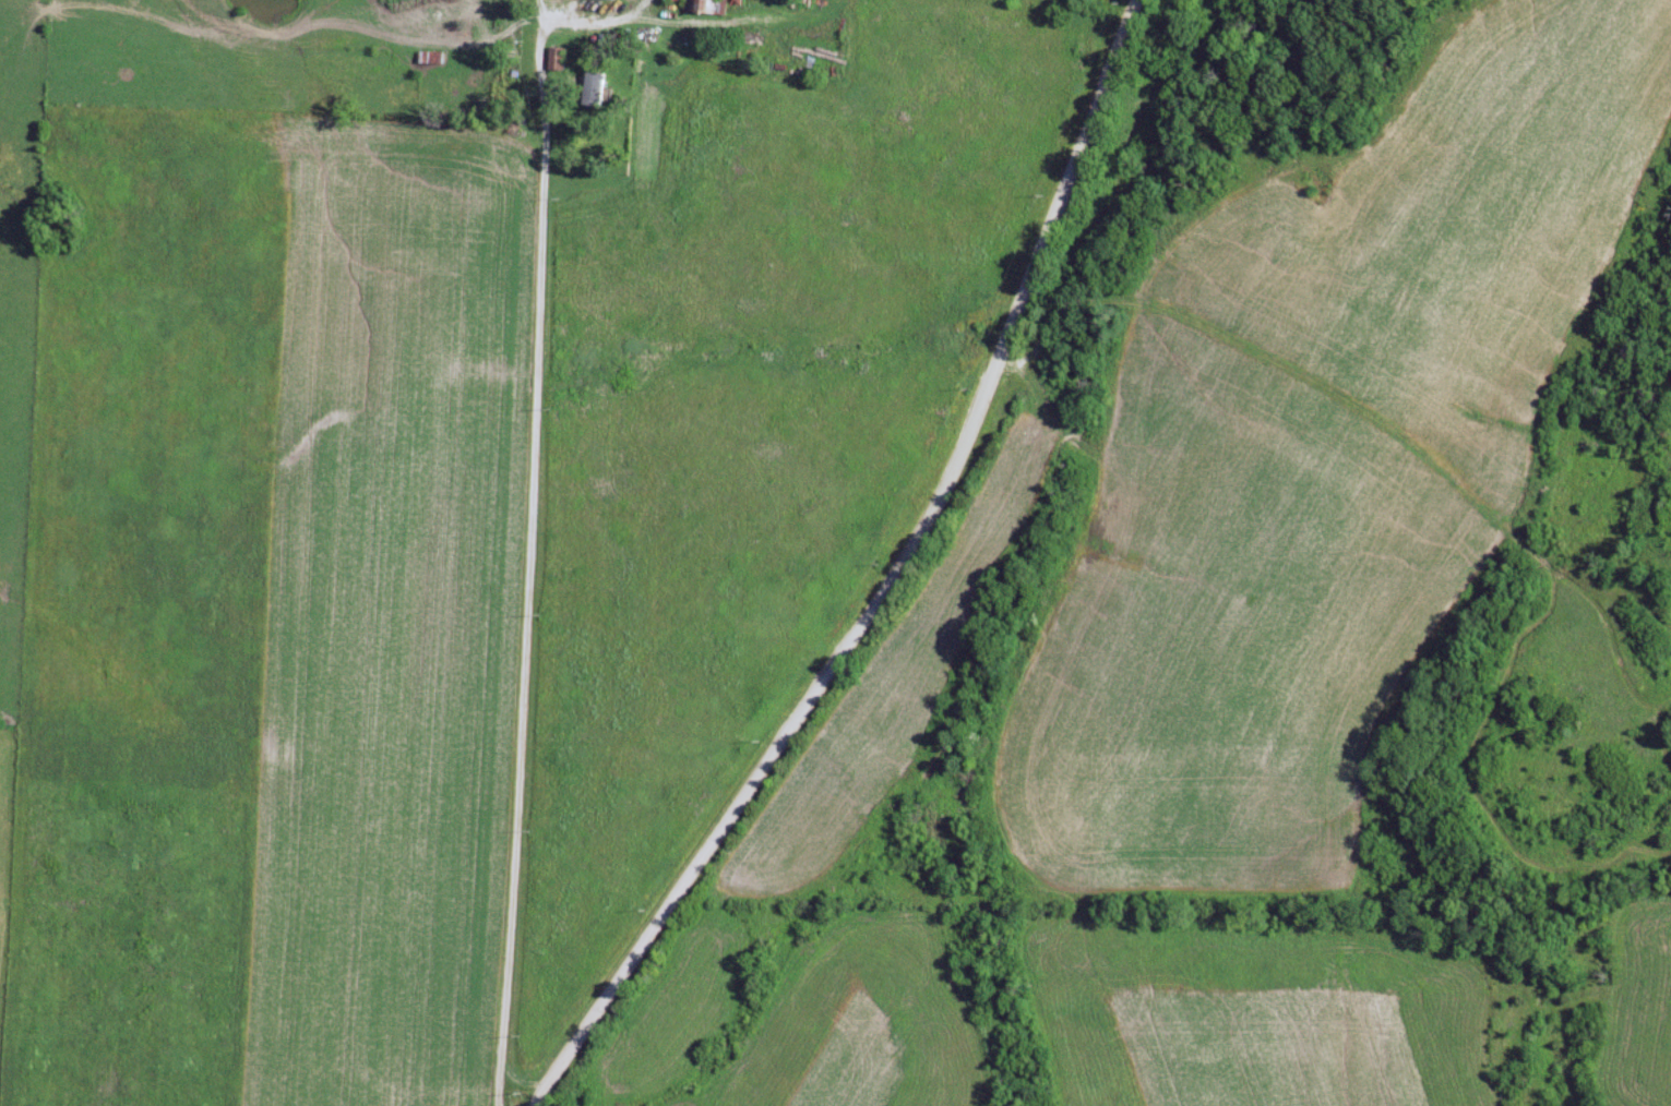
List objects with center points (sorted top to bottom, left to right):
building: (560, 62)
building: (597, 84)
road: (527, 488)
road: (890, 581)
road: (515, 1082)

